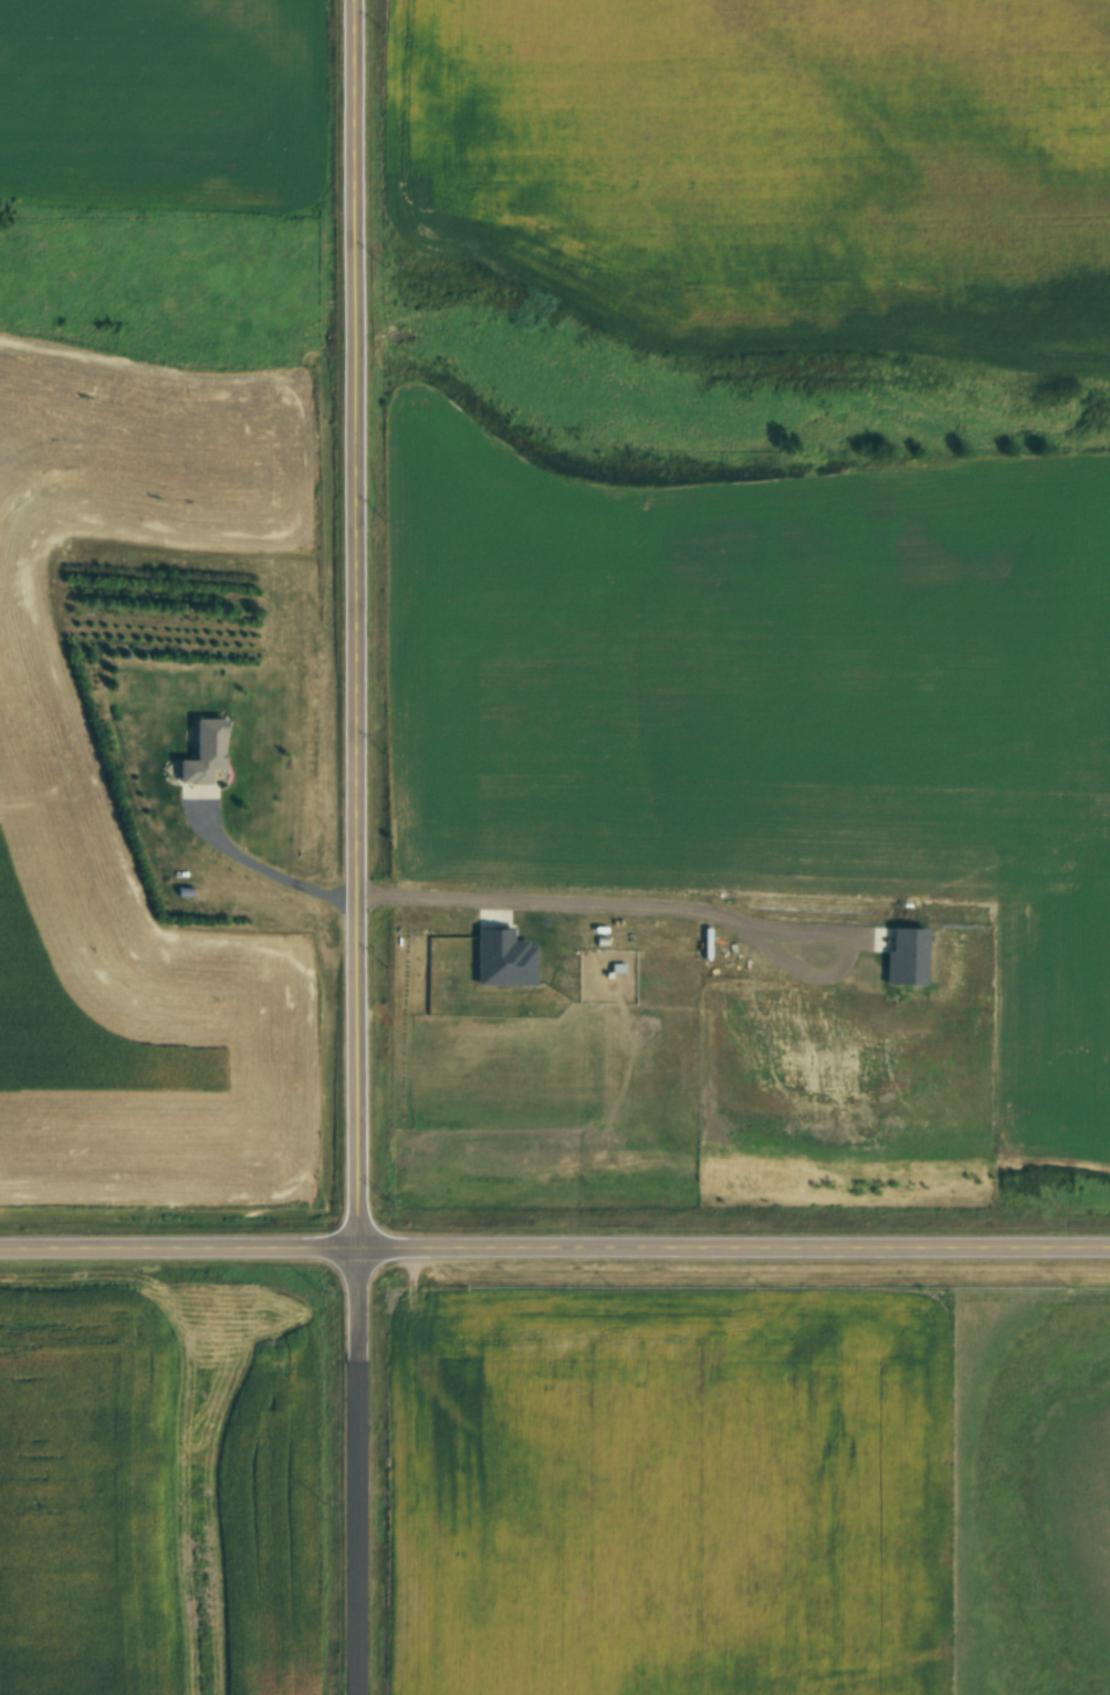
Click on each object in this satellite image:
road: (354, 847)
road: (263, 867)
road: (689, 907)
road: (554, 1244)

